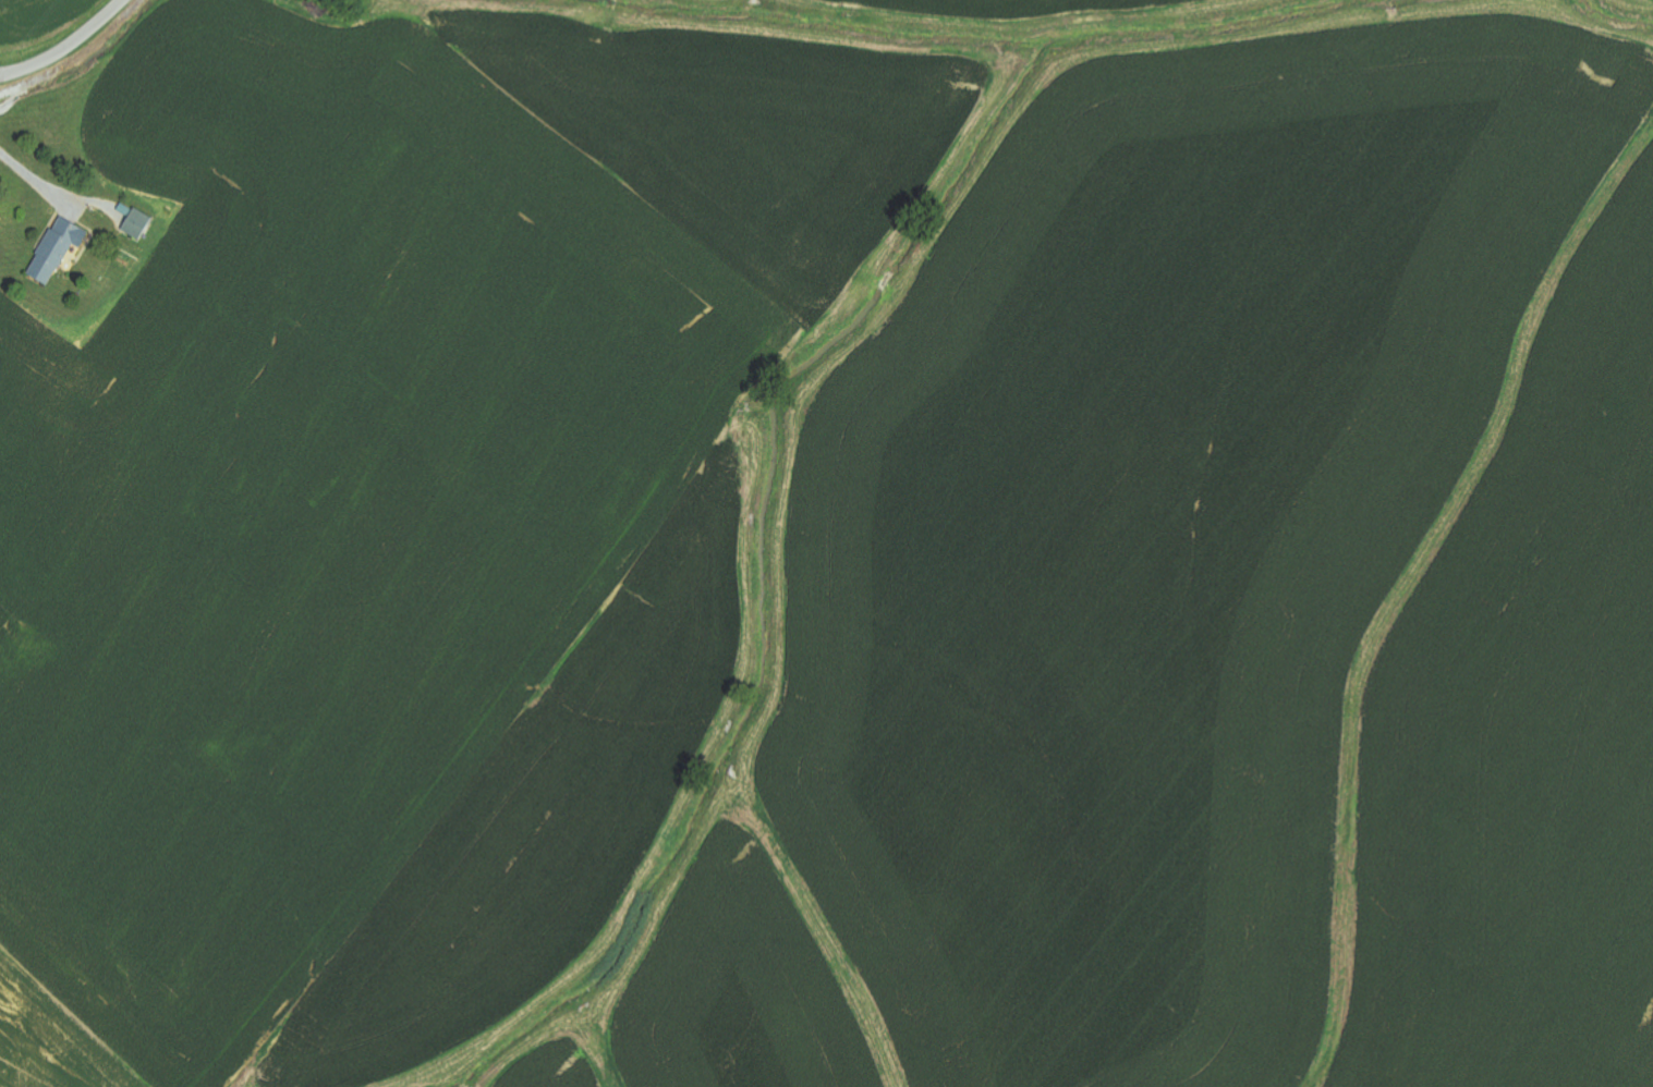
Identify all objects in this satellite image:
road: (63, 45)
building: (138, 224)
building: (59, 249)

